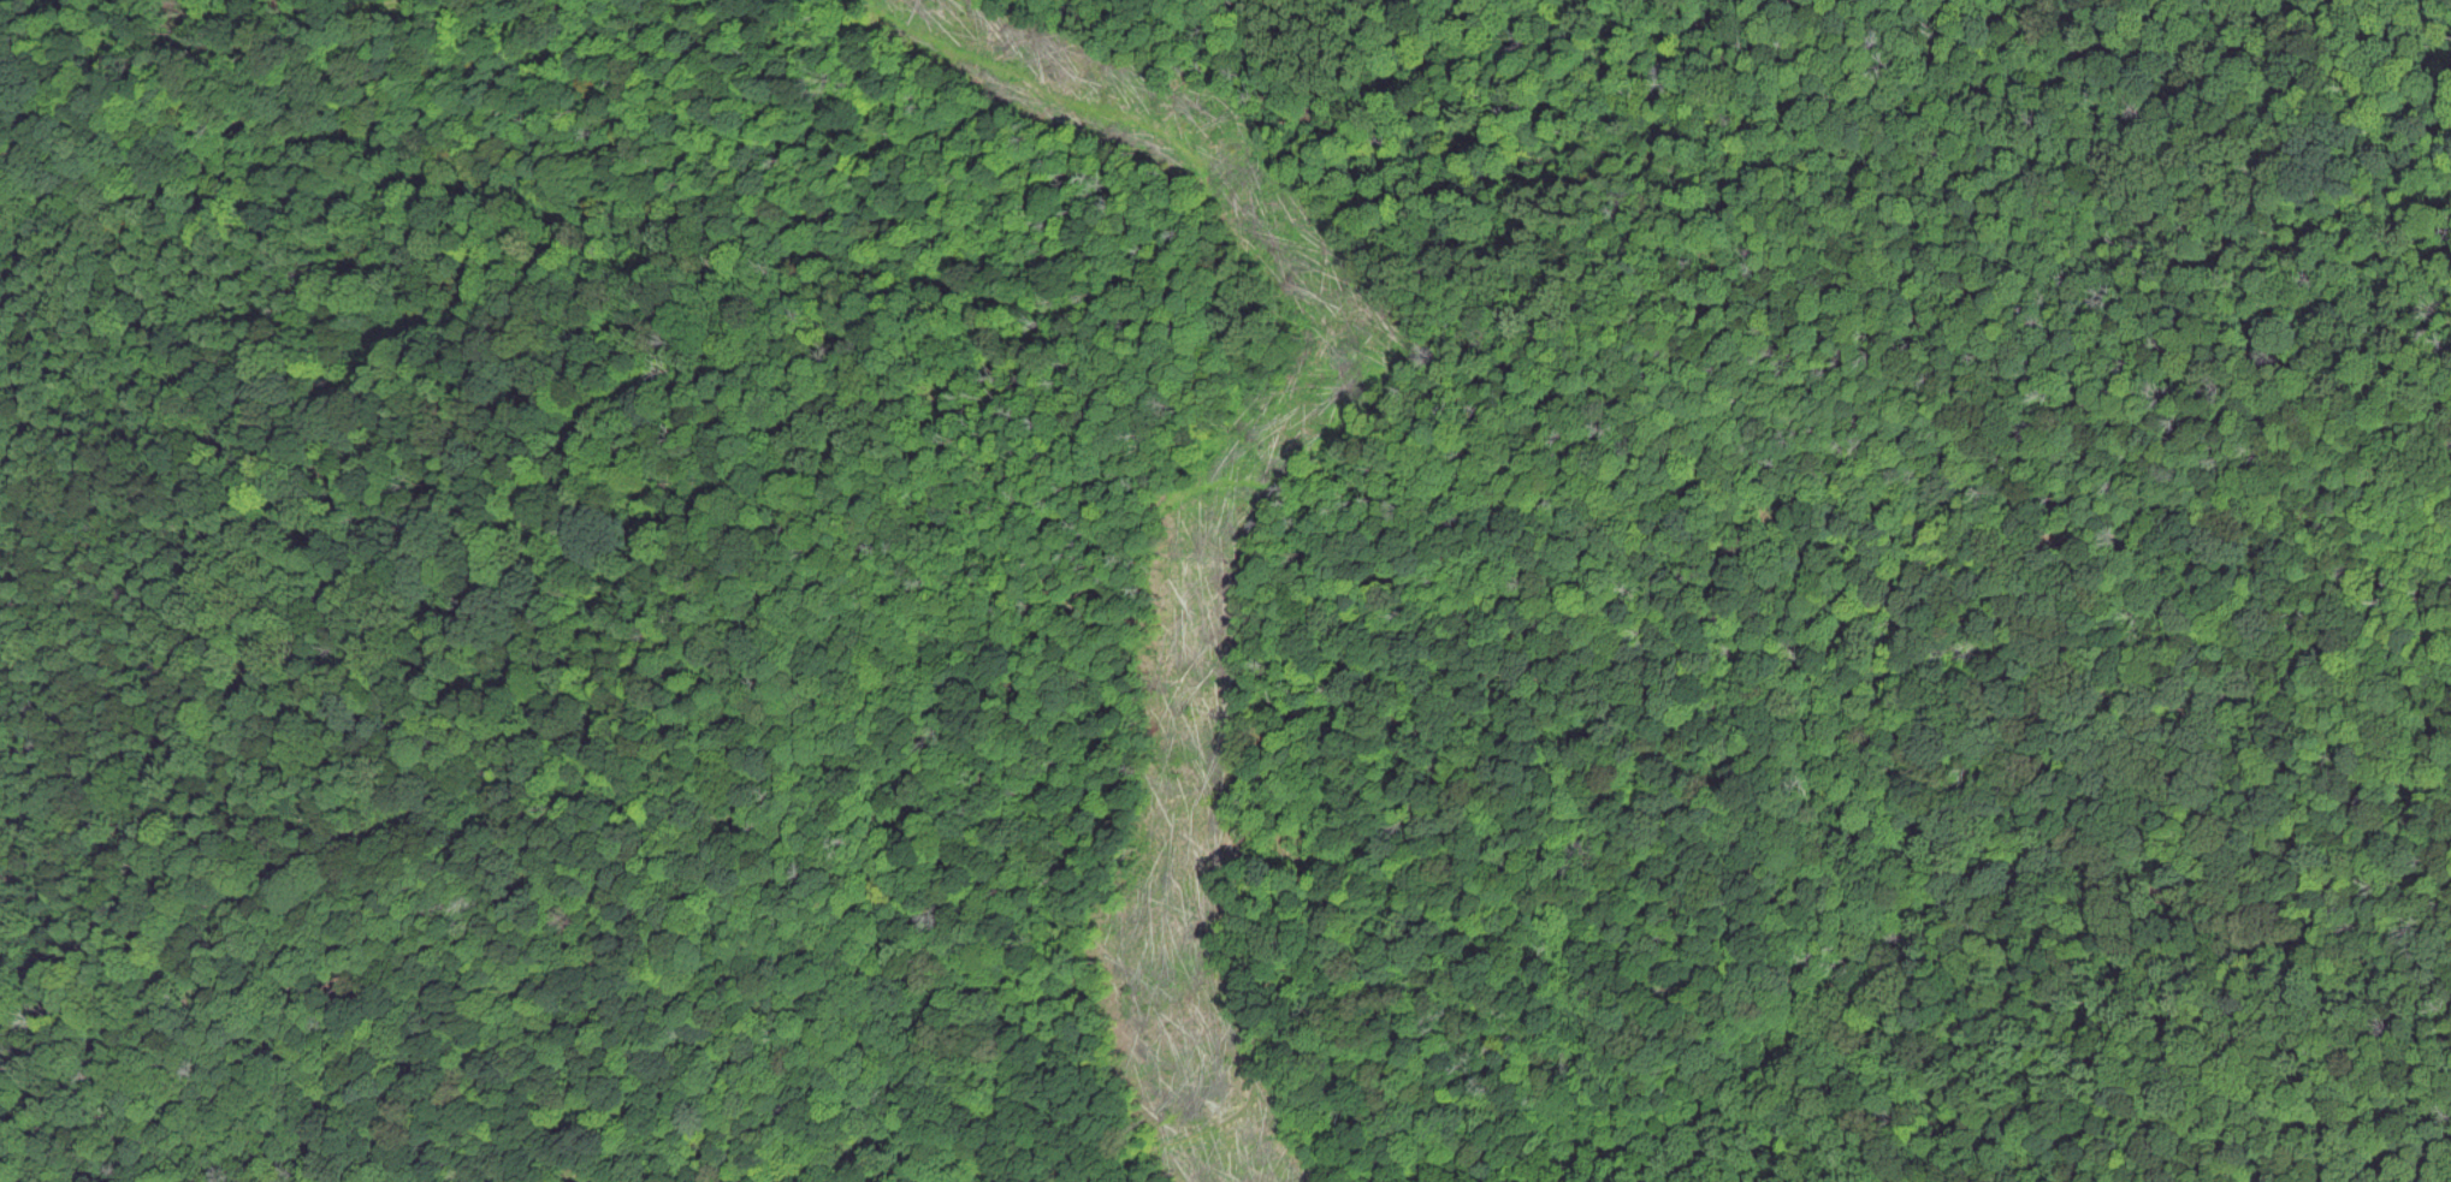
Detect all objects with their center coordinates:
road: (54, 43)

